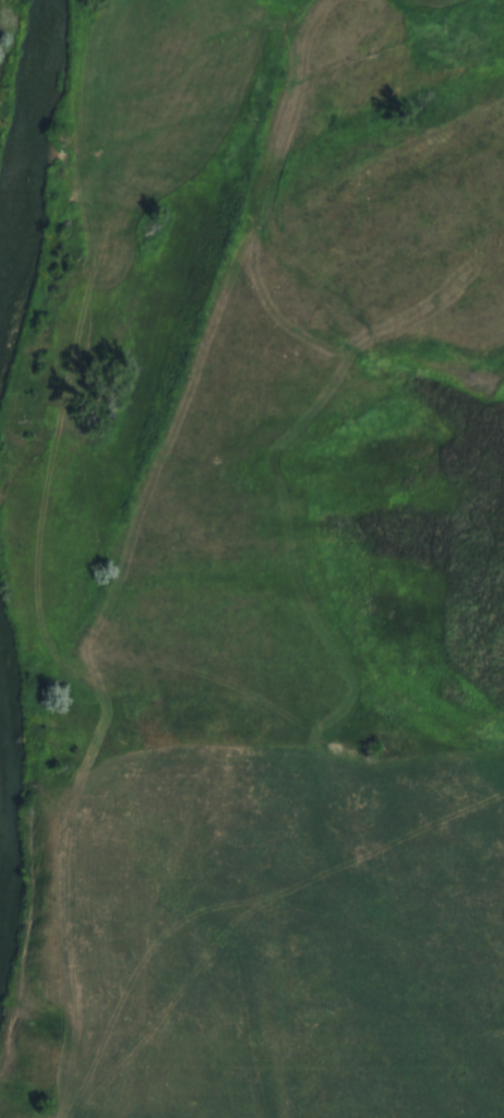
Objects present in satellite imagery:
river: (17, 169)

